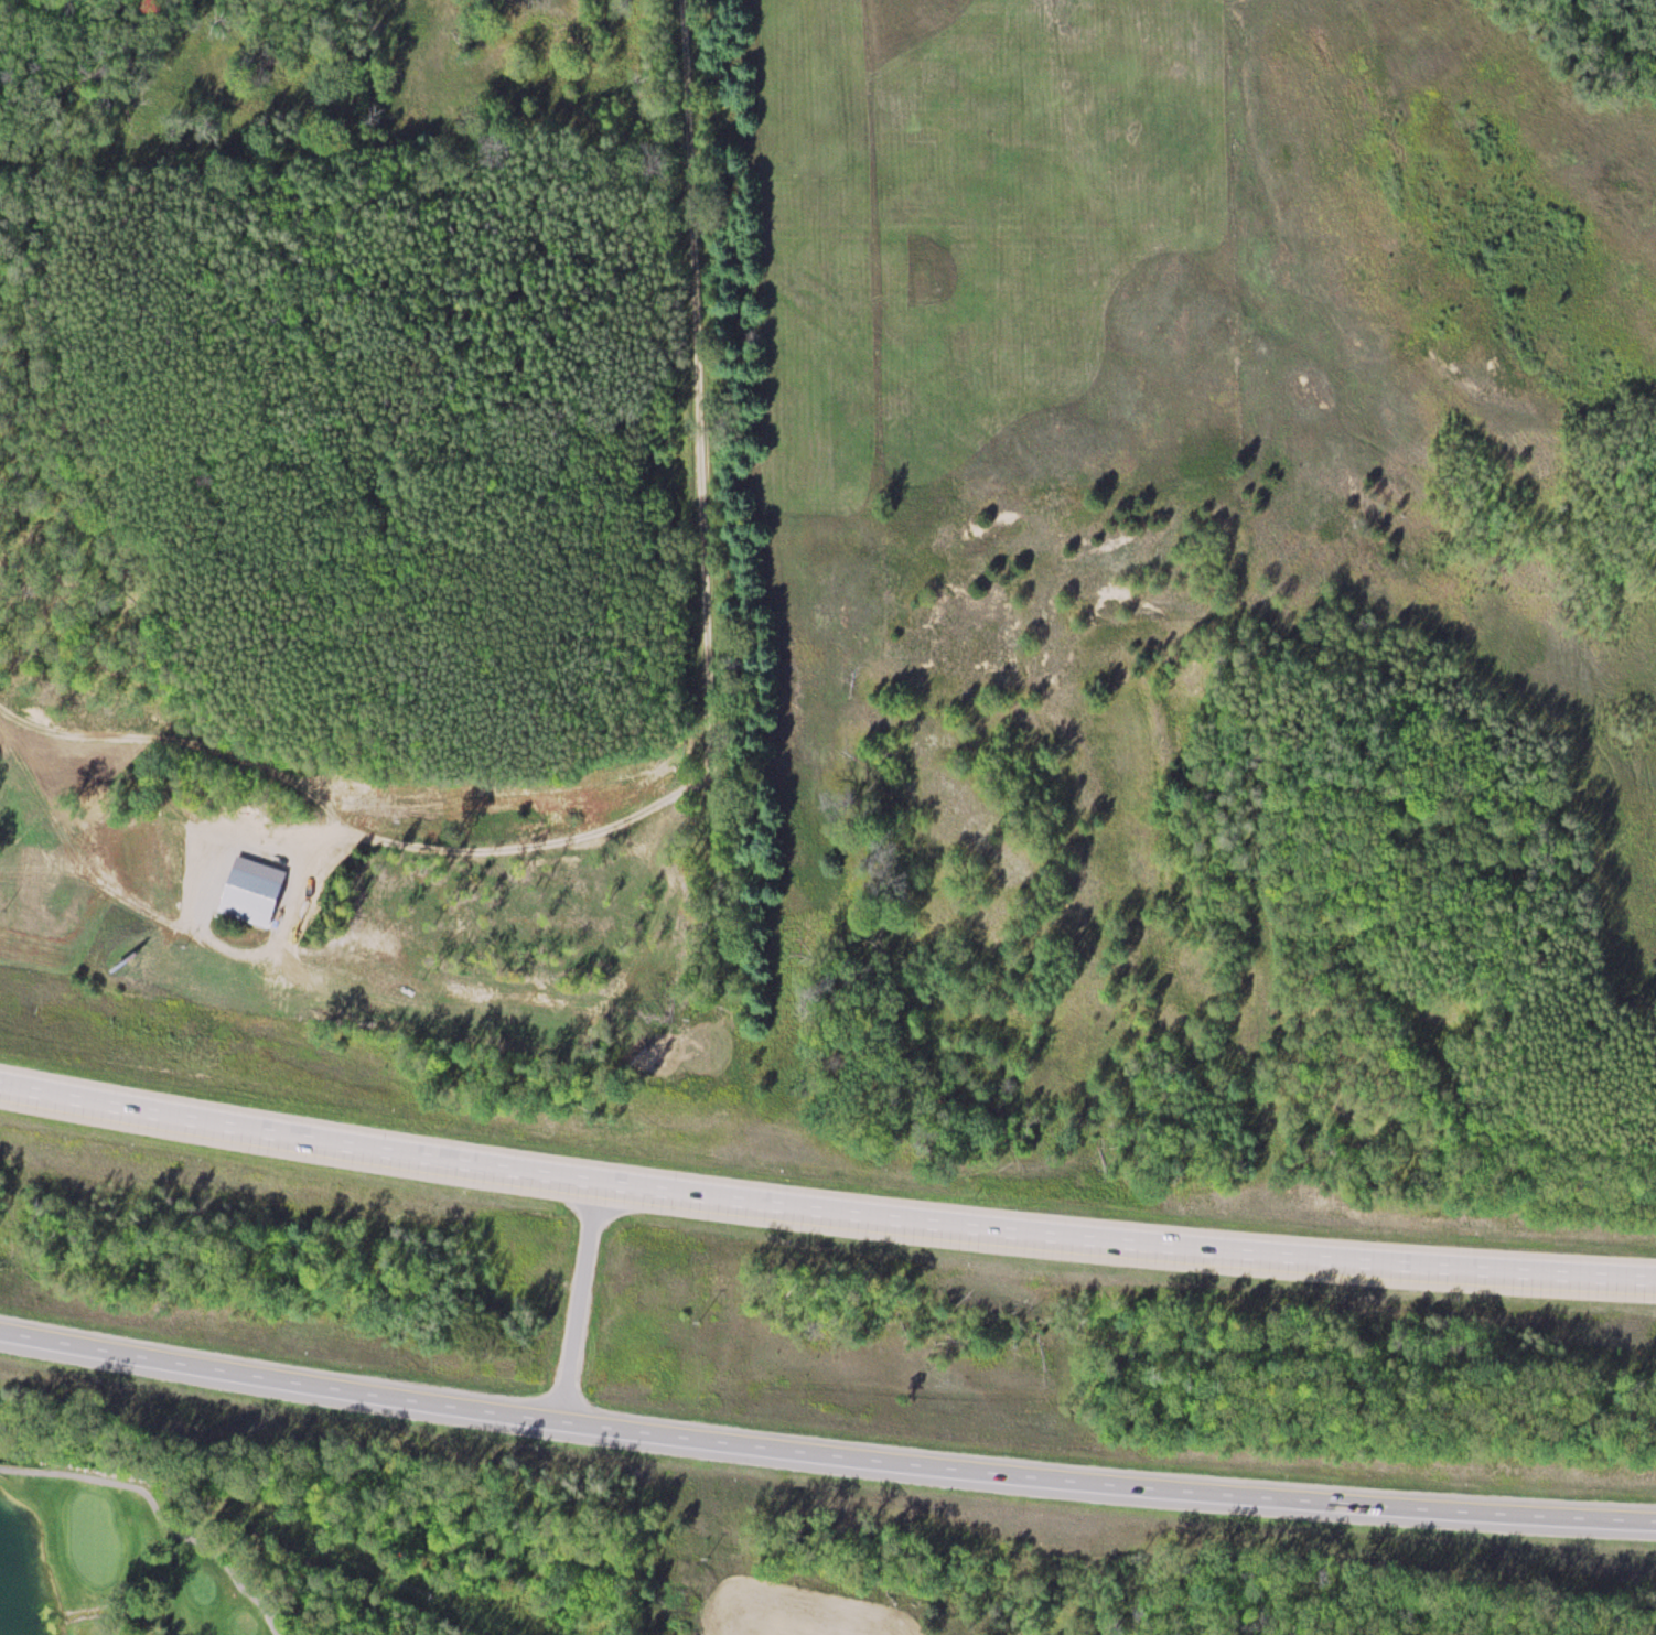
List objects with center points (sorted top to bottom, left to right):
road: (699, 424)
road: (352, 835)
building: (251, 896)
road: (824, 1214)
road: (581, 1301)
road: (825, 1452)
park: (208, 1531)
park: (95, 1535)

